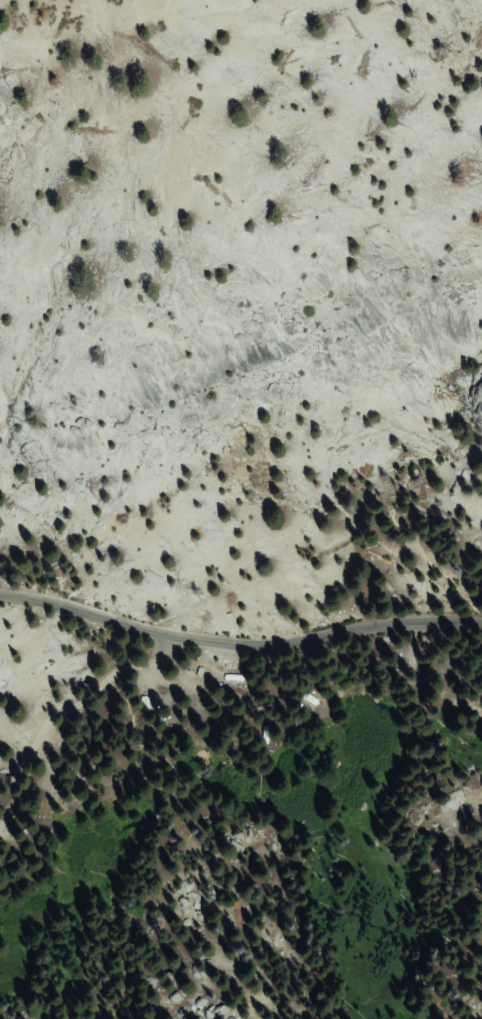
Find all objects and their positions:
road: (238, 641)
road: (194, 682)

